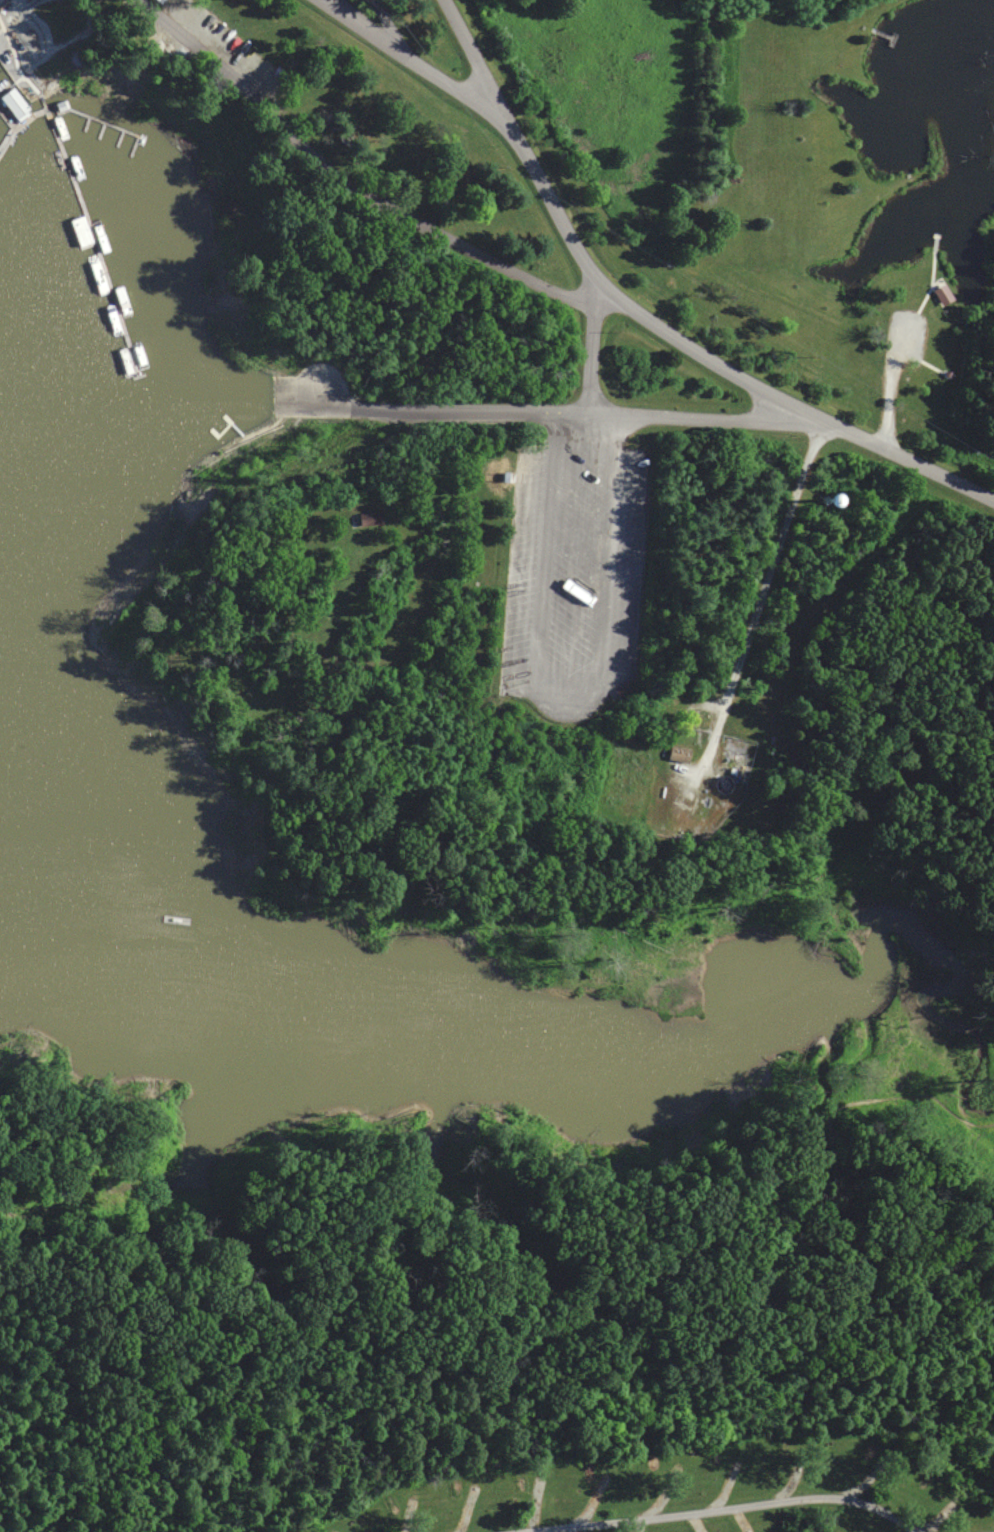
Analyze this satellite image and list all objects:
road: (345, 20)
road: (471, 54)
building: (12, 103)
road: (357, 181)
road: (563, 223)
road: (745, 255)
building: (942, 295)
parking lot: (906, 337)
road: (592, 350)
building: (948, 374)
road: (889, 389)
road: (591, 415)
road: (779, 419)
road: (908, 460)
water tower: (830, 503)
road: (884, 545)
road: (758, 603)
road: (571, 677)
building: (620, 692)
road: (380, 1101)
road: (11, 1389)
road: (11, 1421)
road: (226, 1474)
road: (699, 1506)

